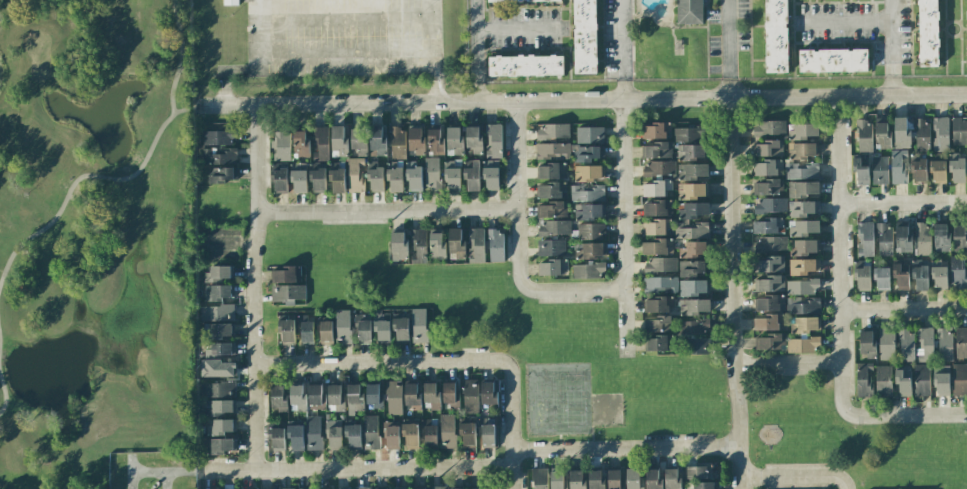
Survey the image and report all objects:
building: (524, 1)
building: (231, 2)
building: (966, 8)
building: (689, 12)
road: (323, 22)
road: (843, 24)
road: (518, 31)
road: (379, 33)
building: (928, 33)
road: (267, 35)
building: (776, 36)
building: (585, 37)
road: (620, 37)
road: (890, 37)
road: (729, 38)
road: (474, 40)
road: (323, 53)
road: (179, 56)
building: (833, 59)
building: (526, 64)
road: (423, 67)
road: (229, 71)
road: (891, 85)
road: (622, 87)
road: (731, 87)
road: (474, 90)
road: (585, 99)
road: (188, 109)
building: (769, 129)
building: (959, 130)
building: (552, 131)
building: (656, 131)
building: (804, 131)
building: (902, 132)
building: (922, 133)
building: (590, 134)
building: (691, 134)
building: (882, 134)
building: (940, 134)
building: (219, 136)
building: (864, 136)
building: (359, 139)
building: (377, 140)
building: (416, 140)
building: (454, 140)
building: (474, 140)
building: (492, 140)
building: (339, 141)
building: (397, 141)
building: (435, 141)
building: (301, 143)
building: (320, 143)
building: (280, 144)
building: (769, 148)
building: (657, 150)
building: (803, 150)
building: (590, 151)
building: (552, 152)
building: (691, 152)
building: (221, 155)
building: (768, 167)
building: (899, 167)
building: (590, 168)
building: (957, 168)
building: (657, 169)
building: (802, 169)
building: (879, 169)
building: (691, 170)
building: (860, 170)
building: (919, 170)
building: (552, 171)
building: (938, 171)
building: (432, 173)
building: (453, 173)
building: (355, 174)
building: (472, 174)
building: (221, 175)
building: (491, 175)
building: (414, 176)
building: (298, 177)
road: (78, 178)
building: (278, 178)
building: (376, 178)
building: (318, 179)
building: (337, 179)
building: (394, 179)
building: (590, 185)
building: (768, 186)
building: (656, 188)
building: (552, 190)
building: (802, 190)
building: (693, 192)
building: (587, 193)
building: (590, 202)
road: (902, 204)
building: (768, 205)
building: (657, 207)
building: (802, 207)
building: (552, 209)
road: (387, 211)
building: (693, 211)
building: (590, 219)
building: (768, 223)
building: (658, 226)
building: (804, 227)
building: (552, 228)
road: (624, 228)
building: (692, 229)
building: (590, 236)
building: (941, 236)
building: (960, 237)
park: (93, 238)
building: (865, 238)
building: (904, 238)
building: (923, 238)
building: (885, 239)
building: (439, 243)
building: (455, 243)
building: (767, 243)
building: (399, 245)
building: (419, 245)
building: (477, 245)
building: (494, 245)
road: (518, 245)
building: (658, 245)
building: (552, 247)
building: (803, 247)
building: (693, 249)
building: (590, 254)
road: (837, 255)
building: (768, 263)
building: (552, 266)
building: (661, 266)
building: (803, 266)
building: (692, 268)
building: (588, 270)
building: (958, 271)
building: (218, 273)
building: (285, 273)
building: (901, 274)
building: (881, 275)
building: (920, 275)
building: (863, 277)
building: (939, 277)
building: (768, 282)
building: (661, 283)
building: (802, 285)
road: (253, 286)
building: (693, 287)
building: (218, 293)
building: (288, 293)
road: (731, 293)
building: (768, 303)
building: (658, 304)
building: (803, 305)
building: (694, 307)
road: (903, 309)
building: (216, 313)
building: (768, 322)
building: (805, 323)
building: (657, 324)
building: (342, 325)
building: (419, 325)
building: (692, 328)
building: (363, 329)
building: (400, 329)
building: (382, 330)
building: (218, 331)
building: (286, 331)
building: (306, 331)
building: (325, 331)
building: (769, 341)
building: (656, 342)
building: (961, 342)
building: (866, 343)
building: (925, 343)
building: (945, 343)
building: (803, 344)
building: (887, 344)
building: (906, 344)
building: (697, 345)
building: (218, 349)
road: (380, 362)
road: (786, 364)
building: (217, 368)
building: (960, 378)
building: (864, 379)
building: (883, 380)
building: (903, 380)
building: (922, 380)
building: (941, 383)
building: (218, 390)
building: (354, 393)
building: (489, 393)
building: (315, 394)
building: (372, 394)
building: (450, 394)
building: (431, 395)
building: (471, 395)
building: (412, 396)
road: (3, 397)
building: (298, 397)
building: (336, 397)
building: (394, 397)
building: (279, 398)
park: (572, 398)
park: (543, 399)
building: (220, 407)
park: (605, 409)
road: (906, 416)
road: (512, 425)
building: (222, 426)
building: (447, 430)
building: (371, 431)
building: (313, 432)
building: (486, 432)
building: (467, 433)
building: (353, 435)
building: (410, 435)
building: (429, 435)
building: (392, 436)
building: (295, 437)
building: (334, 437)
building: (276, 438)
building: (220, 444)
road: (625, 448)
road: (356, 468)
road: (160, 471)
building: (699, 477)
road: (796, 477)
building: (539, 478)
building: (673, 478)
building: (556, 479)
building: (596, 479)
building: (613, 479)
building: (634, 479)
building: (653, 479)
building: (577, 480)
building: (363, 487)
building: (439, 487)
building: (284, 488)
building: (419, 488)
building: (457, 488)
building: (478, 488)

